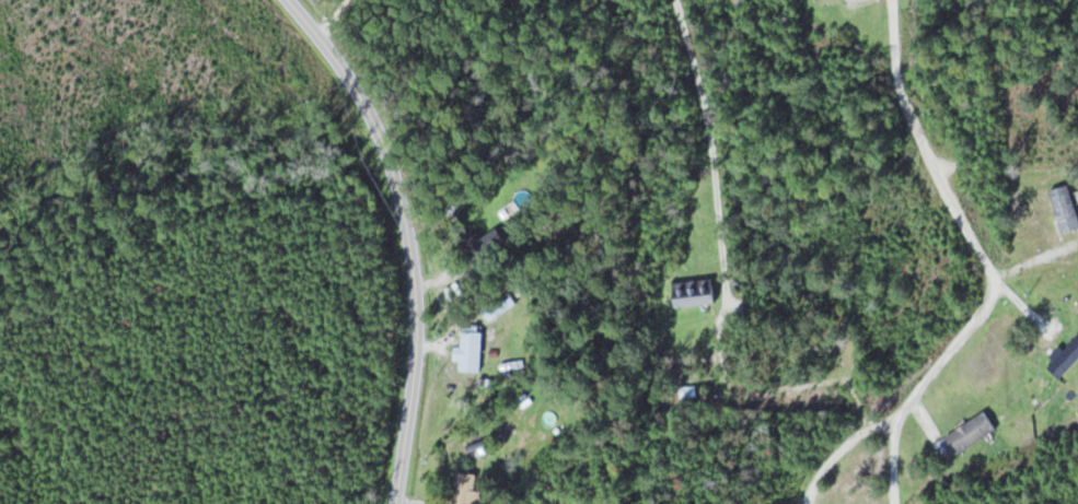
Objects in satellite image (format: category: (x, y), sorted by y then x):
building: (1067, 207)
road: (406, 236)
building: (479, 249)
road: (725, 279)
road: (992, 280)
building: (696, 291)
building: (500, 303)
building: (472, 348)
building: (1066, 359)
building: (972, 432)
road: (893, 461)
building: (467, 490)

